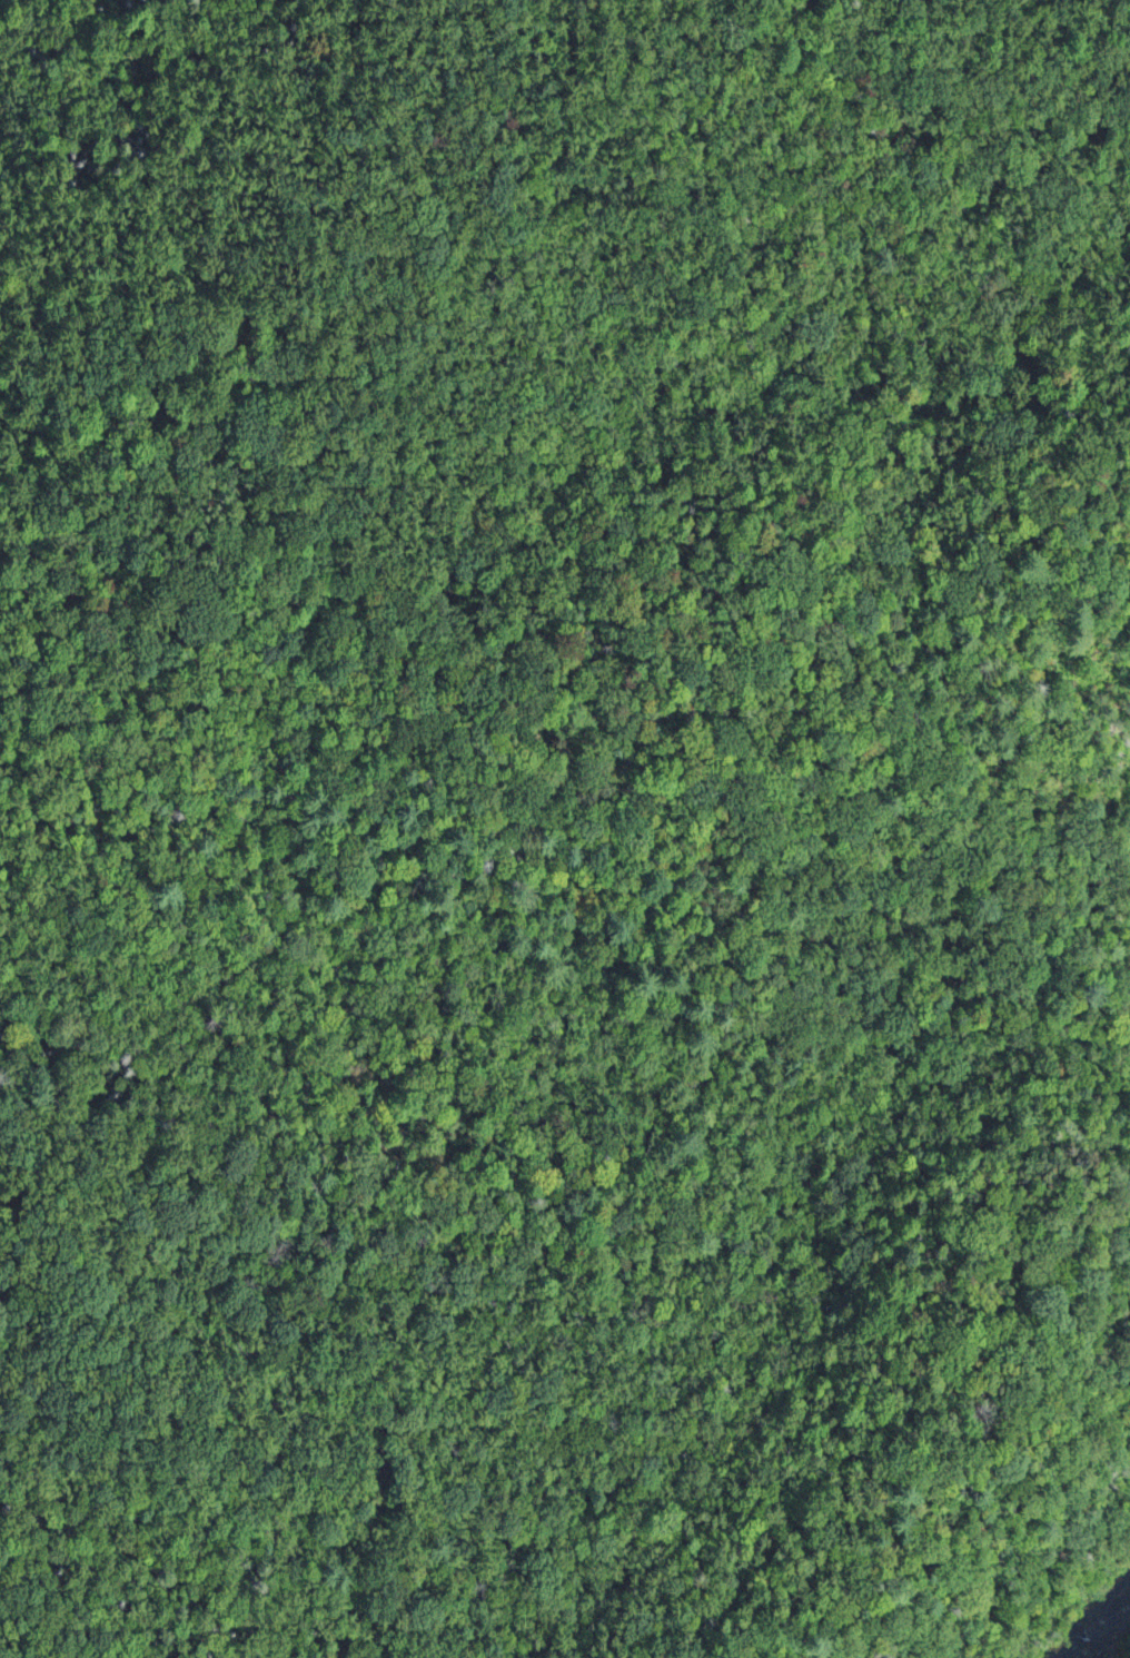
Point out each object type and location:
road: (83, 1391)
road: (77, 1598)
river: (1094, 1628)

